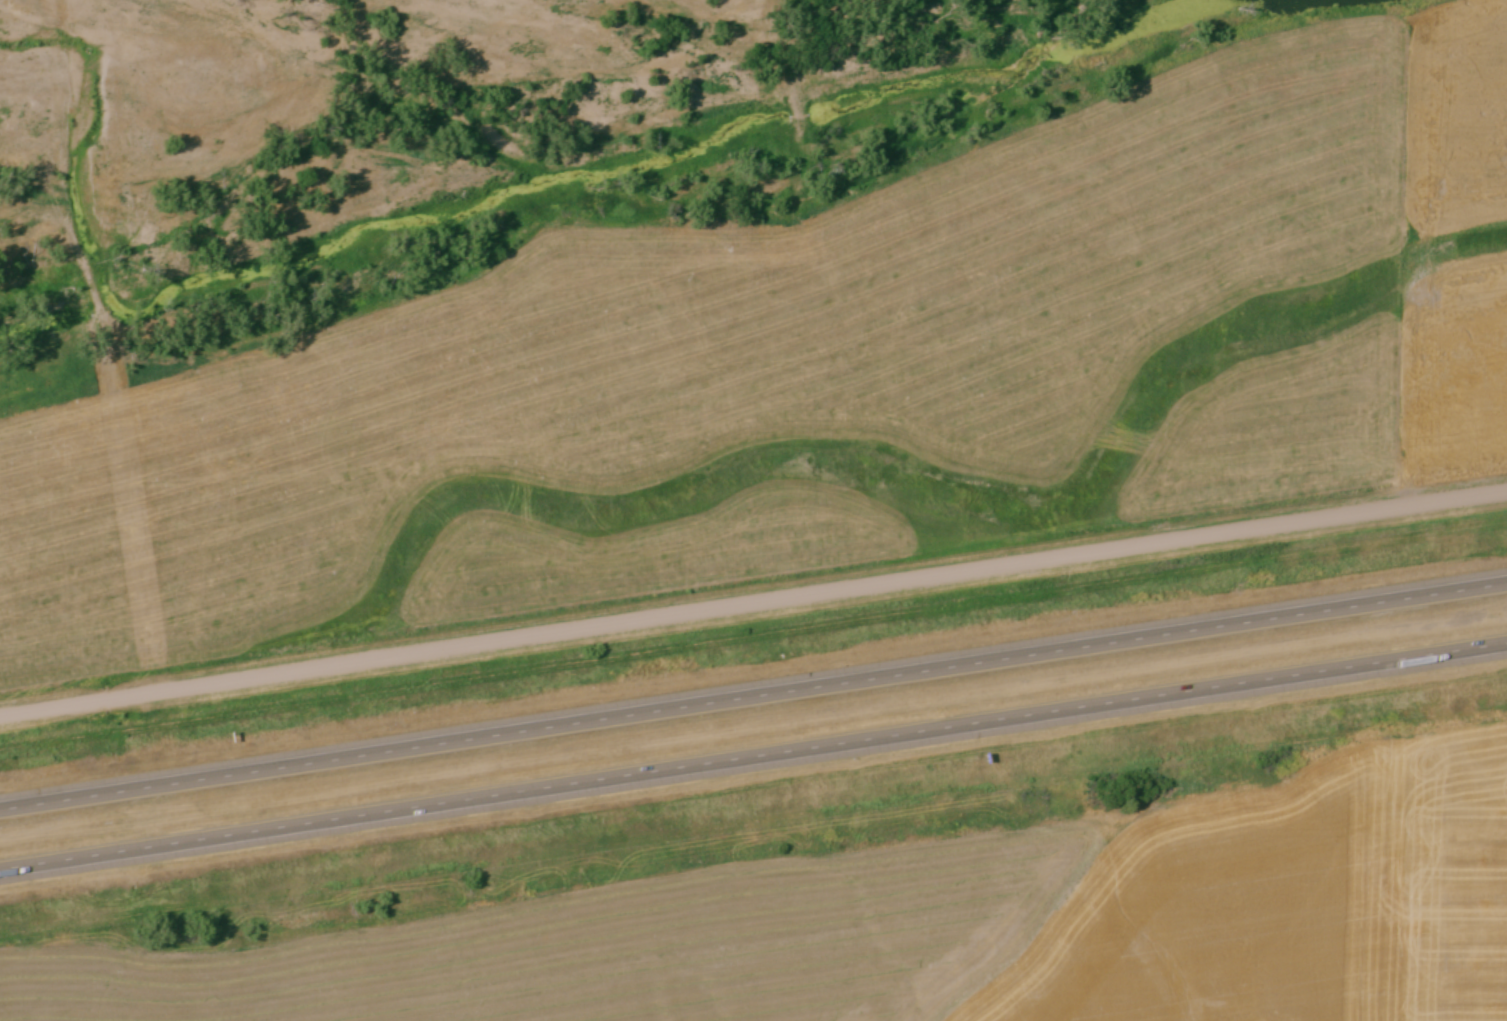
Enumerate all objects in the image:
road: (753, 601)
road: (753, 693)
road: (753, 756)

